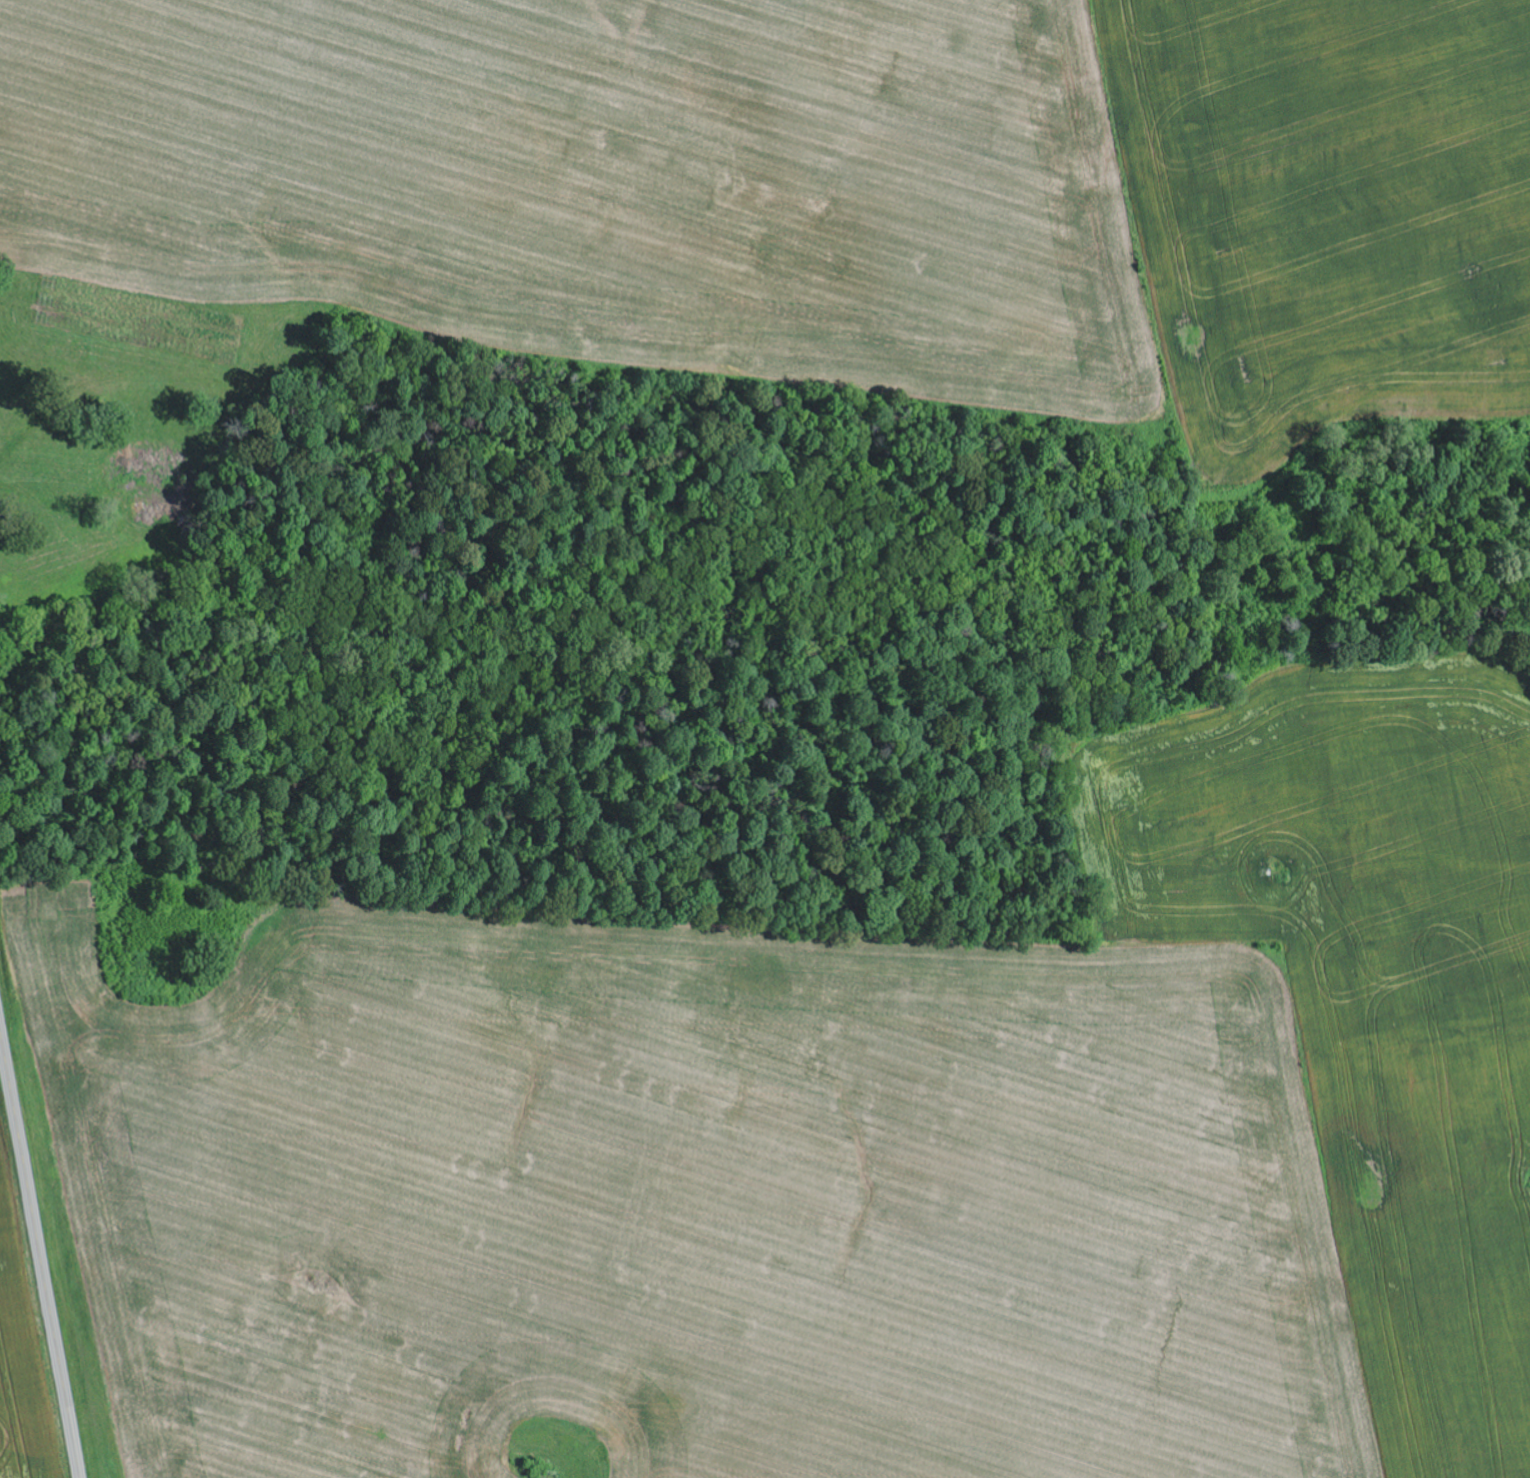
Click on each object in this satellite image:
road: (41, 1254)

